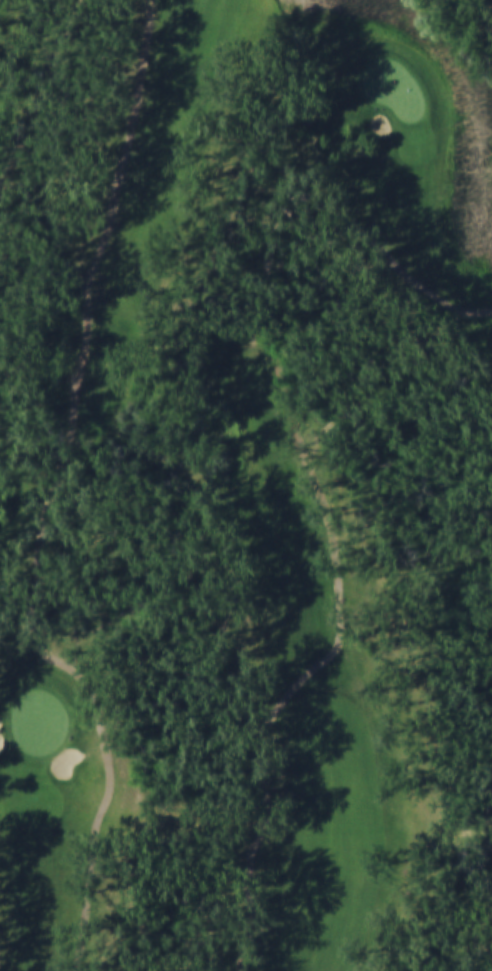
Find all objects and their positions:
park: (249, 492)
road: (52, 498)
road: (329, 517)

